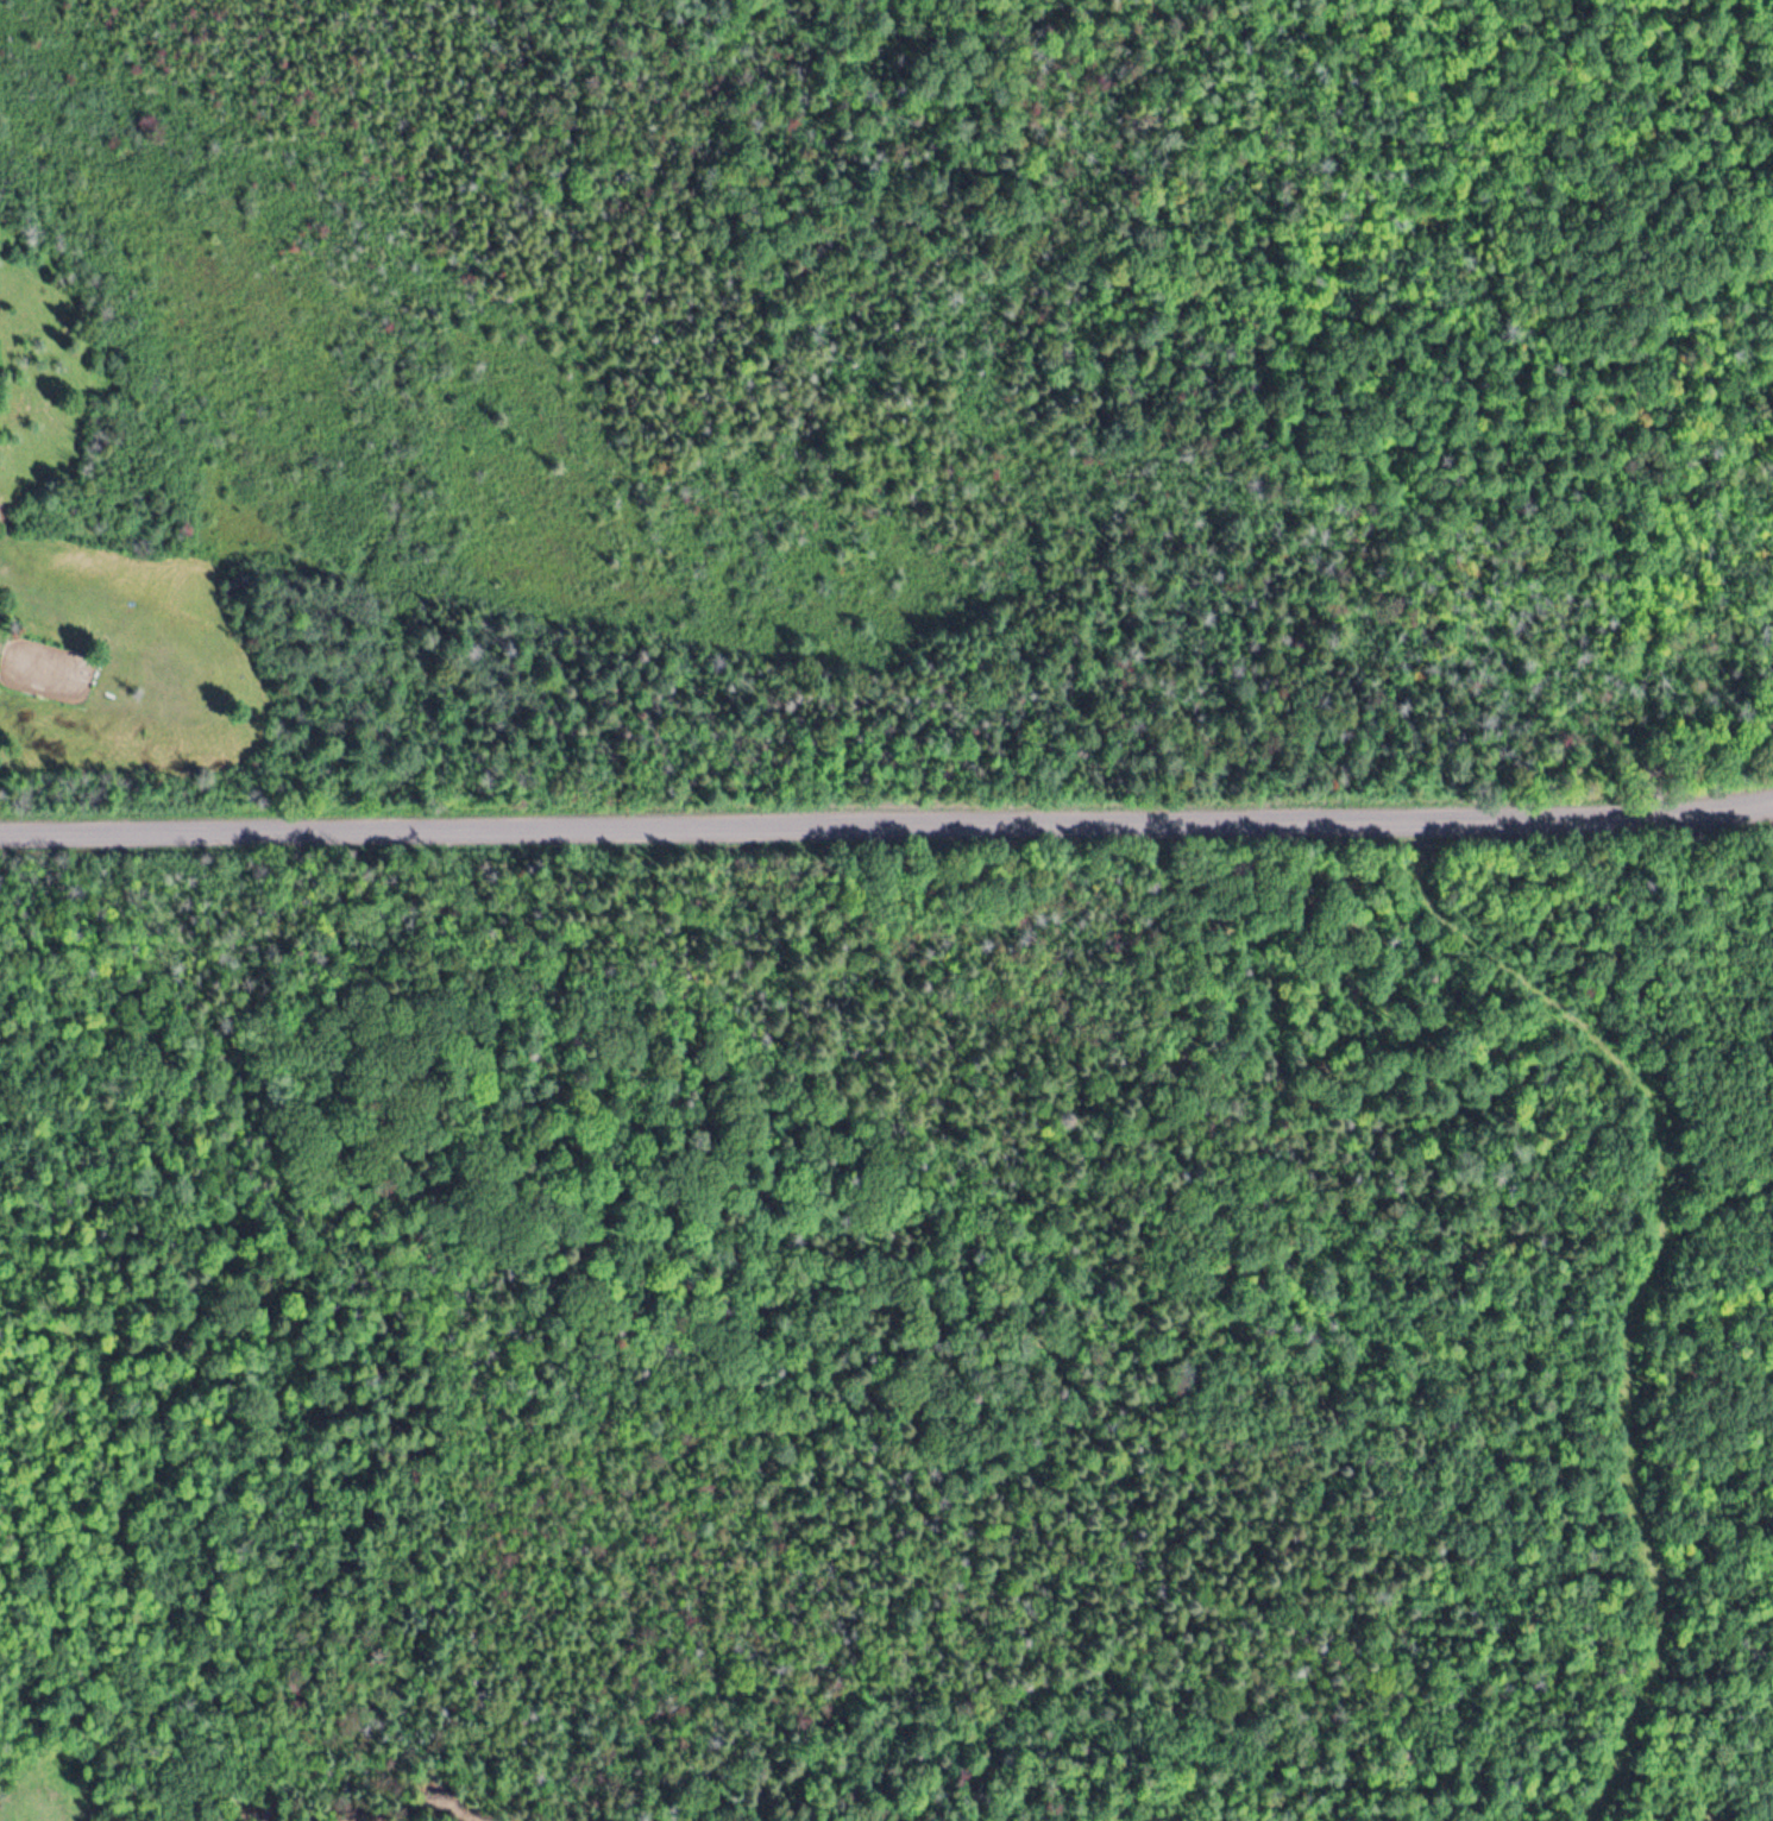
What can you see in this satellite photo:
road: (886, 820)

